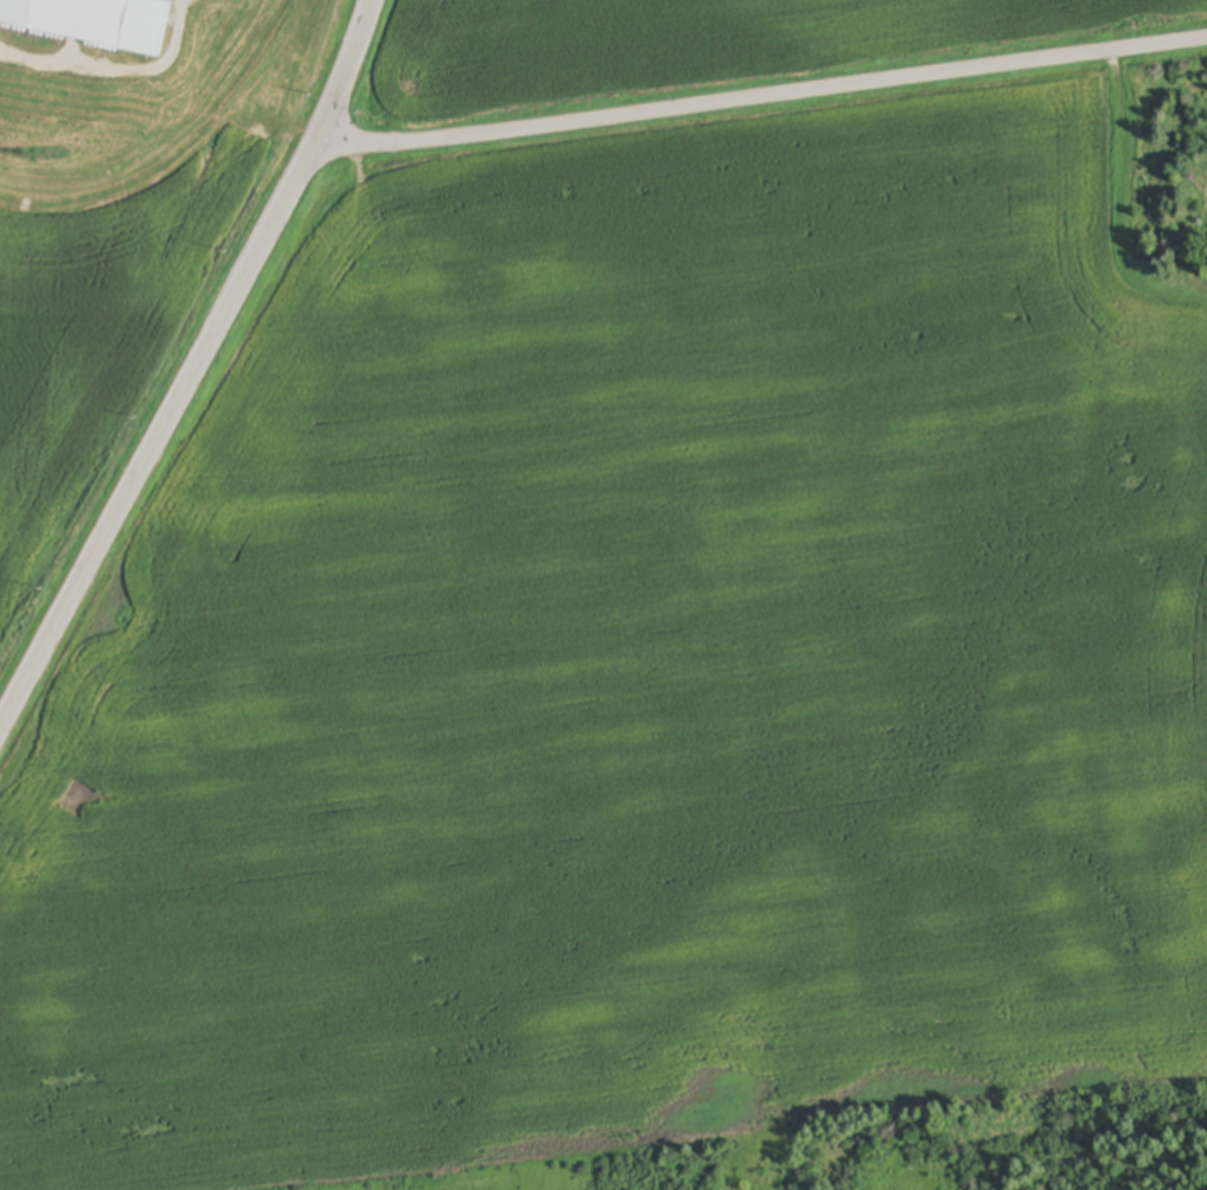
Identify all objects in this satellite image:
building: (18, 65)
road: (761, 103)
road: (198, 372)

